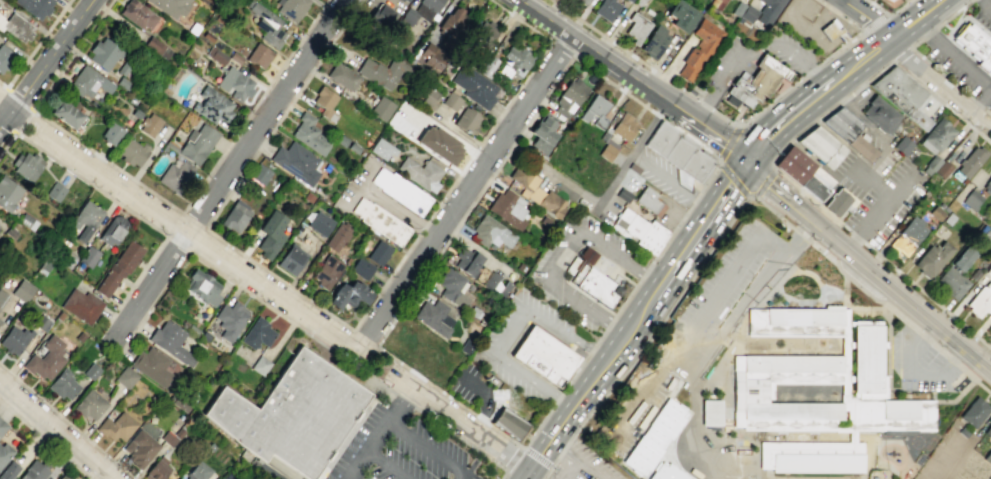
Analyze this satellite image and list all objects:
building: (397, 0)
building: (403, 0)
building: (210, 1)
building: (582, 1)
building: (887, 1)
building: (892, 1)
road: (984, 1)
building: (717, 4)
road: (988, 4)
building: (169, 6)
building: (34, 7)
building: (291, 8)
building: (426, 9)
building: (606, 9)
building: (757, 11)
road: (888, 13)
road: (953, 13)
parking lot: (983, 13)
building: (136, 14)
building: (681, 15)
road: (868, 17)
building: (378, 19)
building: (452, 21)
road: (875, 21)
building: (265, 24)
building: (16, 27)
building: (636, 27)
building: (193, 28)
road: (809, 28)
road: (924, 30)
building: (832, 31)
road: (898, 32)
road: (927, 32)
building: (207, 36)
building: (482, 36)
building: (654, 42)
road: (38, 44)
building: (153, 44)
building: (974, 46)
building: (699, 48)
road: (562, 49)
building: (103, 53)
road: (597, 53)
road: (900, 53)
road: (71, 54)
road: (791, 54)
building: (215, 55)
building: (257, 55)
building: (5, 56)
building: (431, 57)
road: (573, 57)
building: (234, 58)
building: (514, 62)
road: (536, 62)
road: (962, 63)
road: (45, 65)
building: (486, 65)
parking lot: (956, 65)
parking lot: (725, 68)
building: (122, 69)
building: (383, 70)
road: (945, 75)
building: (342, 76)
building: (758, 80)
road: (937, 81)
building: (87, 82)
building: (122, 83)
building: (234, 83)
road: (3, 86)
building: (473, 86)
road: (719, 88)
road: (926, 89)
road: (850, 92)
building: (901, 95)
building: (428, 97)
building: (568, 97)
road: (18, 98)
building: (450, 101)
road: (982, 101)
building: (325, 103)
road: (7, 104)
road: (253, 105)
building: (211, 106)
building: (380, 108)
building: (595, 111)
road: (799, 111)
building: (65, 113)
building: (135, 113)
road: (283, 113)
road: (657, 115)
building: (879, 115)
building: (467, 120)
road: (730, 123)
road: (989, 123)
building: (149, 124)
building: (624, 127)
road: (872, 127)
road: (798, 131)
building: (848, 131)
road: (15, 132)
building: (111, 133)
building: (542, 133)
road: (710, 133)
building: (309, 134)
building: (938, 135)
road: (466, 136)
road: (513, 142)
road: (8, 143)
building: (197, 143)
building: (439, 144)
road: (477, 145)
building: (902, 145)
building: (821, 146)
building: (381, 148)
building: (678, 150)
building: (132, 152)
building: (606, 152)
traffic signals: (745, 160)
road: (107, 161)
building: (296, 162)
building: (970, 162)
building: (932, 163)
building: (793, 164)
building: (26, 165)
building: (942, 169)
building: (421, 172)
road: (226, 173)
building: (259, 174)
building: (175, 176)
parking lot: (664, 176)
road: (730, 177)
road: (671, 180)
parking lot: (356, 183)
road: (360, 184)
building: (817, 184)
road: (871, 184)
road: (451, 185)
building: (987, 185)
road: (482, 189)
building: (534, 190)
building: (54, 191)
building: (400, 191)
road: (463, 191)
road: (775, 192)
building: (8, 193)
building: (308, 197)
road: (599, 197)
building: (971, 199)
building: (648, 201)
building: (835, 202)
road: (124, 208)
building: (507, 209)
road: (396, 210)
road: (877, 212)
building: (234, 215)
building: (85, 220)
building: (26, 221)
building: (380, 221)
building: (319, 223)
building: (639, 226)
road: (422, 228)
building: (112, 230)
road: (184, 231)
building: (10, 232)
road: (452, 233)
building: (489, 233)
building: (910, 234)
building: (269, 235)
building: (336, 236)
road: (799, 236)
building: (988, 237)
road: (690, 238)
road: (774, 241)
road: (474, 250)
road: (188, 252)
road: (612, 252)
building: (378, 253)
building: (88, 256)
road: (563, 256)
building: (932, 258)
building: (291, 259)
road: (882, 260)
building: (44, 266)
building: (118, 267)
building: (361, 268)
building: (474, 268)
building: (328, 271)
parking lot: (546, 274)
building: (954, 274)
road: (641, 276)
road: (652, 278)
road: (278, 279)
road: (384, 282)
building: (591, 282)
building: (202, 287)
building: (452, 287)
building: (23, 290)
road: (846, 291)
road: (413, 292)
building: (348, 294)
road: (871, 295)
road: (718, 296)
road: (900, 297)
building: (2, 298)
building: (980, 300)
road: (576, 303)
building: (81, 305)
road: (269, 307)
road: (739, 308)
road: (869, 308)
building: (59, 316)
building: (433, 317)
building: (230, 318)
road: (915, 318)
building: (0, 320)
building: (41, 322)
parking lot: (702, 326)
building: (989, 327)
road: (616, 329)
road: (509, 331)
building: (257, 333)
building: (79, 336)
road: (363, 338)
building: (14, 339)
road: (649, 340)
building: (171, 342)
building: (466, 346)
parking lot: (493, 352)
building: (543, 354)
road: (961, 357)
building: (45, 359)
building: (260, 365)
parking lot: (918, 365)
building: (150, 366)
road: (685, 366)
road: (394, 368)
building: (91, 371)
road: (911, 372)
building: (125, 377)
road: (370, 377)
road: (424, 380)
parking lot: (469, 383)
building: (62, 384)
building: (863, 390)
road: (581, 398)
road: (485, 400)
building: (89, 404)
building: (974, 411)
building: (710, 412)
building: (292, 414)
road: (479, 418)
road: (66, 421)
road: (460, 422)
building: (510, 423)
building: (2, 426)
building: (116, 426)
road: (442, 426)
building: (987, 429)
road: (56, 430)
building: (178, 432)
road: (346, 432)
road: (350, 432)
road: (381, 434)
road: (503, 434)
building: (655, 437)
building: (168, 438)
road: (44, 441)
building: (141, 447)
parking lot: (398, 449)
road: (428, 451)
road: (563, 451)
building: (4, 452)
road: (512, 457)
road: (537, 457)
building: (987, 457)
road: (390, 464)
parking lot: (581, 464)
building: (8, 470)
road: (568, 470)
road: (589, 470)
building: (33, 471)
building: (155, 471)
building: (197, 471)
building: (666, 472)
road: (272, 473)
road: (503, 473)
building: (63, 477)
building: (189, 477)
building: (186, 478)
parking lot: (301, 478)
building: (589, 478)
building: (591, 478)

